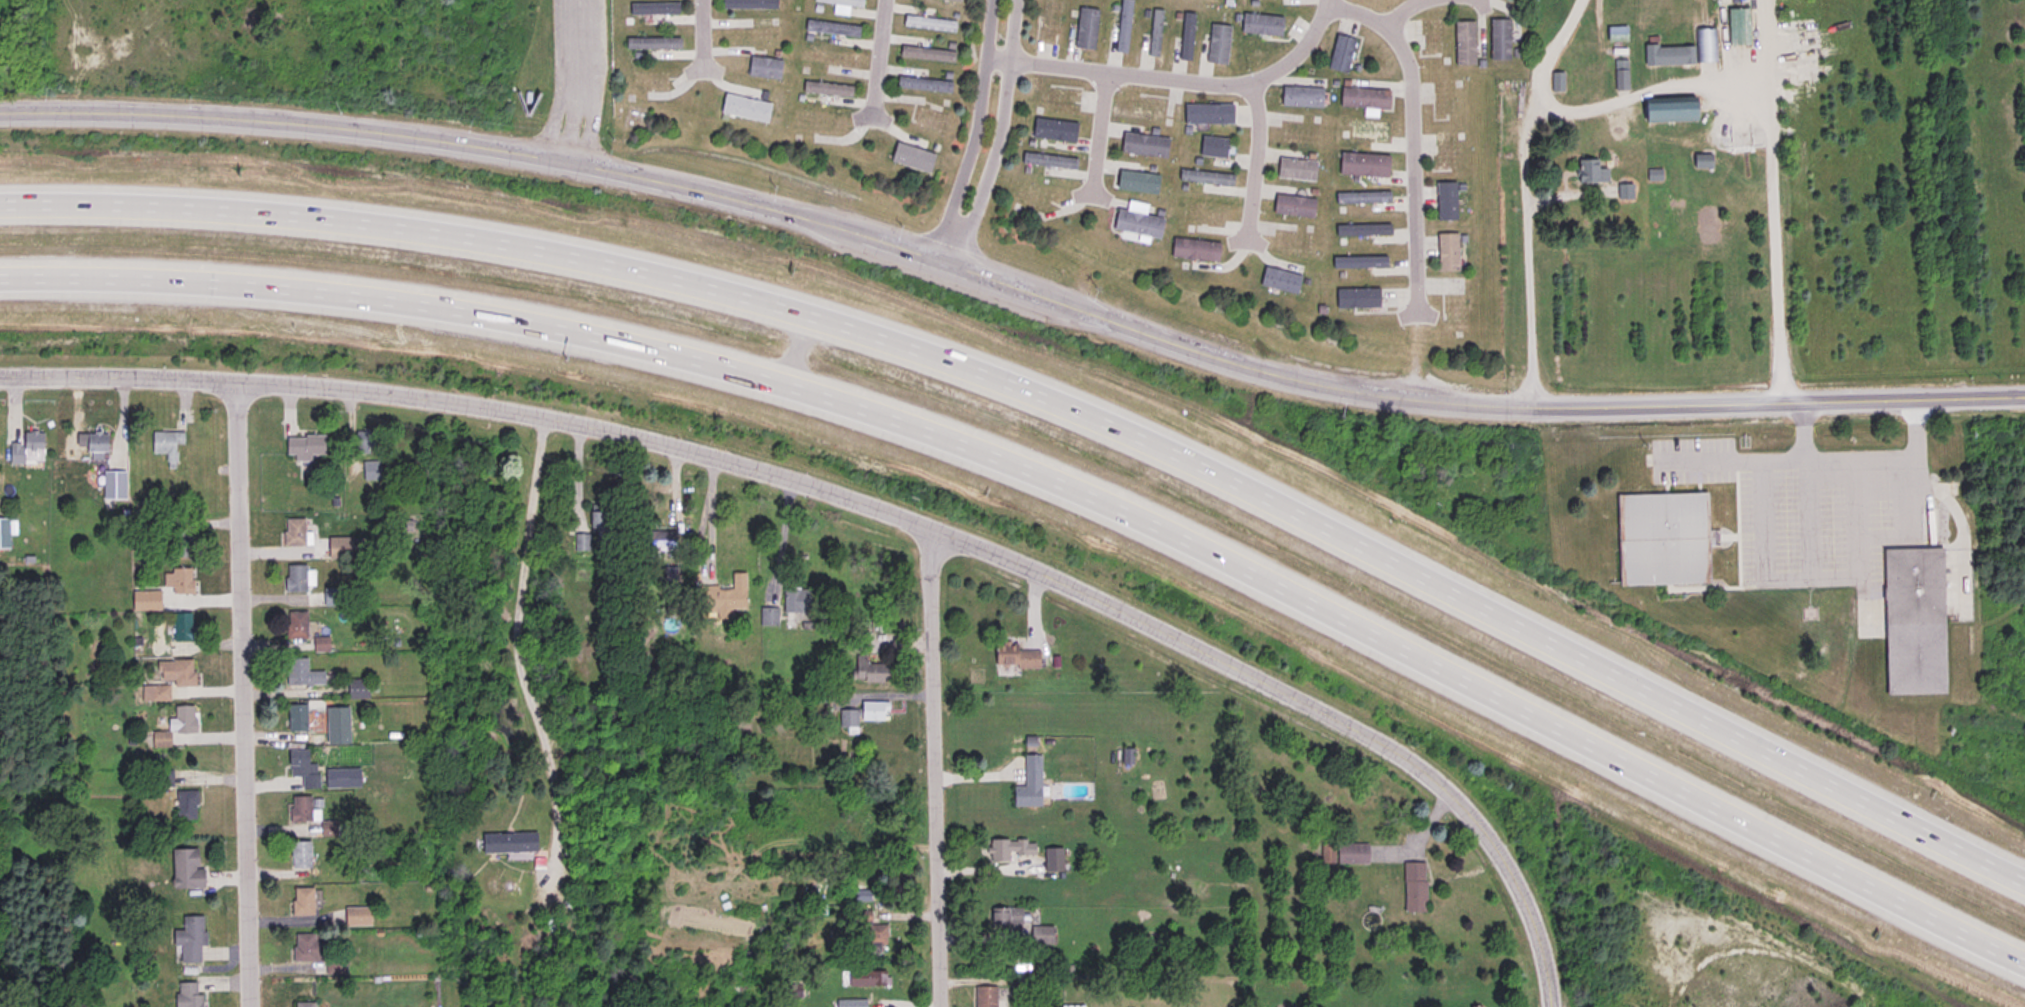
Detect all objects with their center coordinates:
building: (748, 4)
building: (840, 5)
road: (1421, 6)
building: (652, 9)
building: (1265, 21)
building: (1050, 22)
building: (927, 23)
building: (1088, 24)
building: (1122, 26)
building: (1157, 26)
building: (1737, 27)
building: (831, 28)
building: (1189, 32)
building: (752, 33)
building: (1218, 34)
building: (1616, 34)
road: (701, 37)
building: (1430, 38)
building: (1498, 39)
building: (652, 41)
building: (1463, 43)
building: (1338, 50)
building: (926, 53)
building: (1668, 55)
building: (829, 56)
road: (883, 63)
building: (763, 67)
building: (649, 79)
building: (1620, 79)
road: (573, 80)
building: (1556, 83)
building: (923, 84)
road: (1177, 84)
building: (826, 88)
road: (1646, 88)
building: (1301, 97)
building: (1056, 98)
building: (1364, 98)
building: (1446, 101)
building: (1137, 107)
building: (1669, 109)
building: (745, 110)
building: (1207, 114)
building: (931, 119)
building: (1048, 126)
building: (1362, 128)
road: (973, 130)
road: (995, 134)
building: (1306, 135)
road: (1412, 135)
road: (1099, 142)
building: (1143, 145)
building: (1212, 147)
building: (1446, 150)
building: (911, 158)
road: (1257, 164)
building: (1362, 164)
building: (1295, 170)
building: (1206, 172)
building: (1590, 172)
building: (1136, 182)
building: (1035, 186)
building: (1624, 192)
building: (1363, 193)
road: (1520, 197)
road: (1767, 198)
building: (1445, 202)
road: (775, 206)
building: (1298, 208)
building: (1201, 212)
building: (1136, 221)
building: (1363, 221)
building: (1300, 244)
building: (1194, 251)
building: (1447, 252)
building: (1366, 254)
building: (1282, 282)
building: (1356, 299)
building: (1456, 315)
road: (1056, 396)
road: (1777, 397)
building: (362, 442)
building: (304, 444)
building: (95, 445)
building: (165, 445)
building: (25, 447)
road: (1528, 455)
road: (1818, 459)
building: (370, 471)
road: (576, 475)
road: (1056, 476)
road: (871, 507)
building: (597, 519)
building: (292, 532)
building: (1660, 538)
building: (656, 540)
building: (580, 541)
road: (1760, 542)
building: (180, 543)
building: (339, 547)
road: (1804, 576)
building: (298, 577)
building: (178, 580)
building: (333, 596)
building: (722, 597)
building: (145, 600)
building: (794, 600)
building: (767, 616)
building: (1912, 621)
building: (296, 624)
building: (181, 626)
building: (859, 641)
building: (320, 643)
road: (514, 644)
building: (1012, 656)
building: (868, 670)
building: (176, 671)
building: (300, 673)
building: (357, 688)
building: (157, 692)
road: (247, 695)
building: (862, 713)
building: (296, 716)
building: (182, 719)
building: (302, 768)
road: (935, 770)
building: (1029, 783)
building: (185, 804)
building: (300, 809)
building: (328, 827)
building: (869, 834)
road: (1419, 835)
building: (507, 842)
building: (1008, 848)
building: (1343, 853)
building: (300, 854)
building: (1052, 859)
building: (185, 868)
building: (1413, 888)
building: (301, 902)
building: (356, 916)
building: (1005, 918)
building: (1041, 935)
building: (871, 937)
building: (189, 938)
building: (308, 949)
building: (862, 978)
building: (790, 989)
building: (188, 995)
building: (984, 996)
building: (850, 1002)
road: (1552, 1003)
building: (303, 1004)
building: (1071, 1006)

